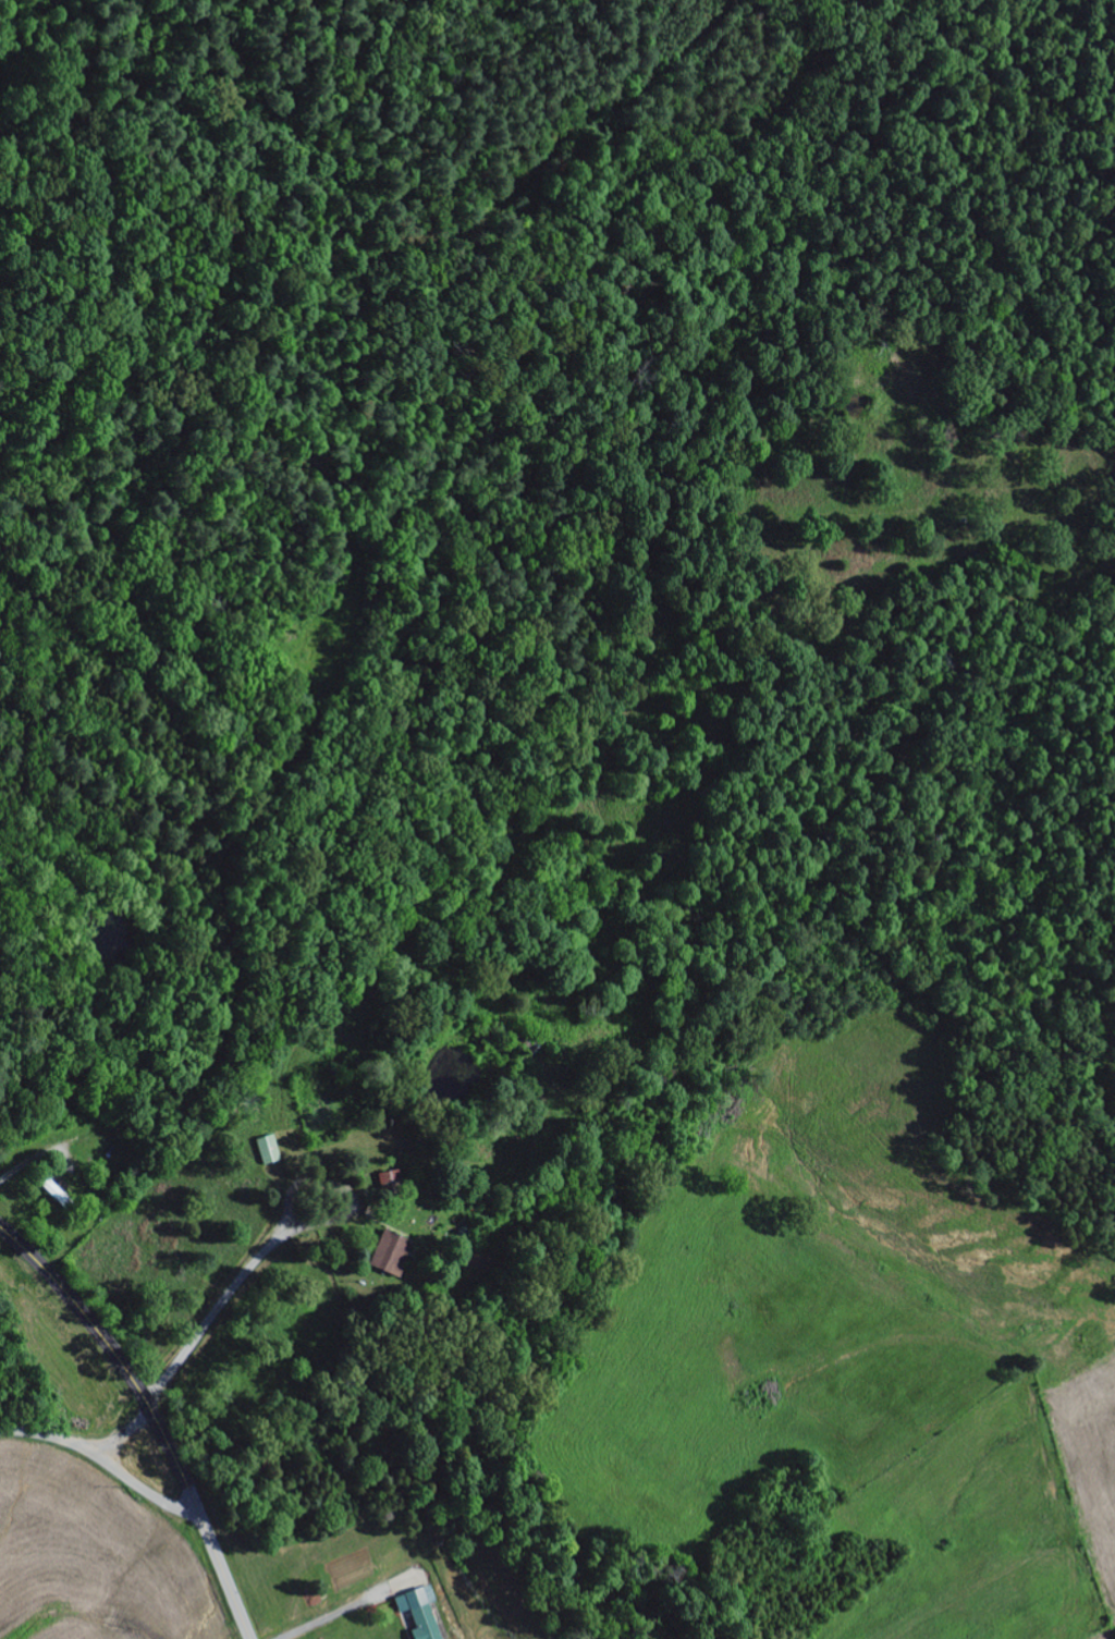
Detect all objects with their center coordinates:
road: (383, 510)
road: (119, 623)
building: (268, 1150)
building: (390, 1178)
building: (53, 1190)
building: (391, 1253)
road: (154, 1416)
road: (121, 1440)
road: (103, 1460)
building: (420, 1612)

